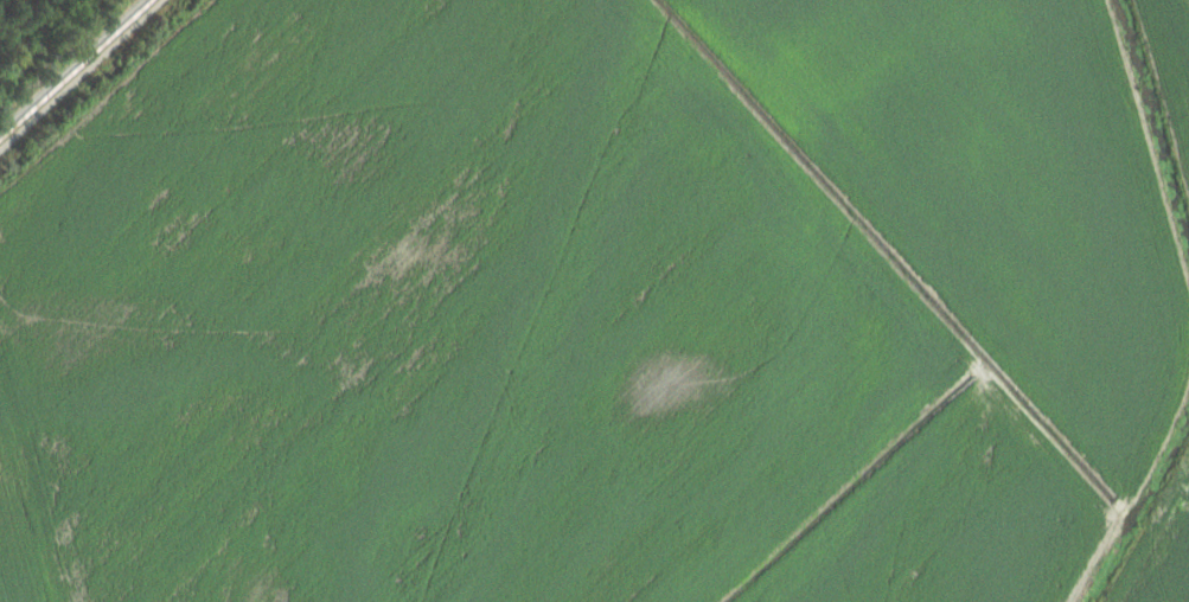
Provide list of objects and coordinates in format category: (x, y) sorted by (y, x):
railway: (76, 69)

